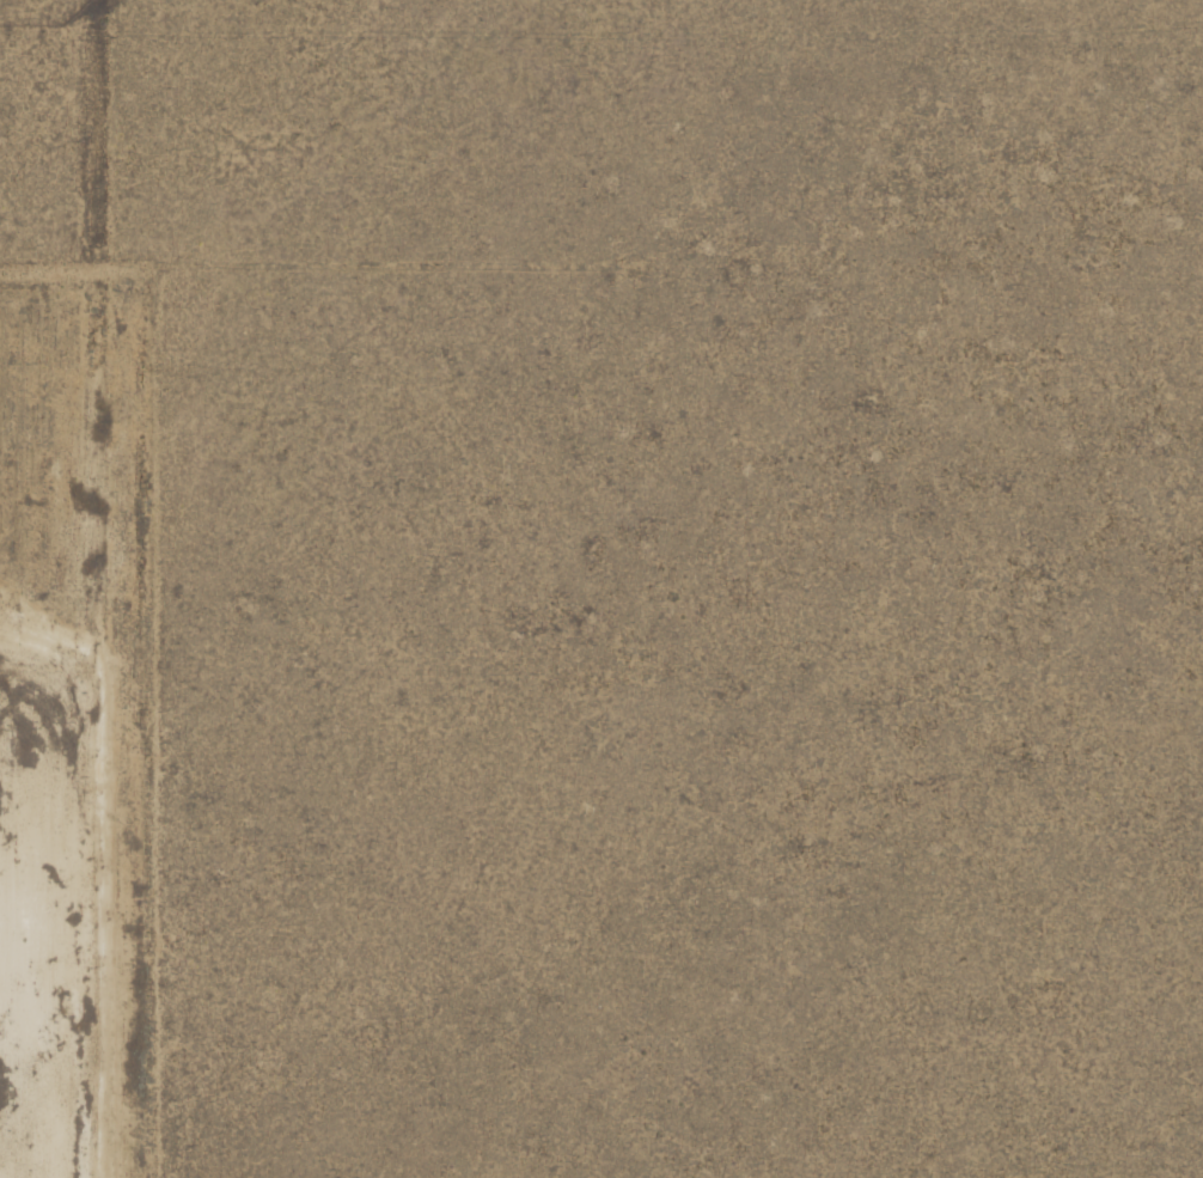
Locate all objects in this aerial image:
airport: (91, 10)

